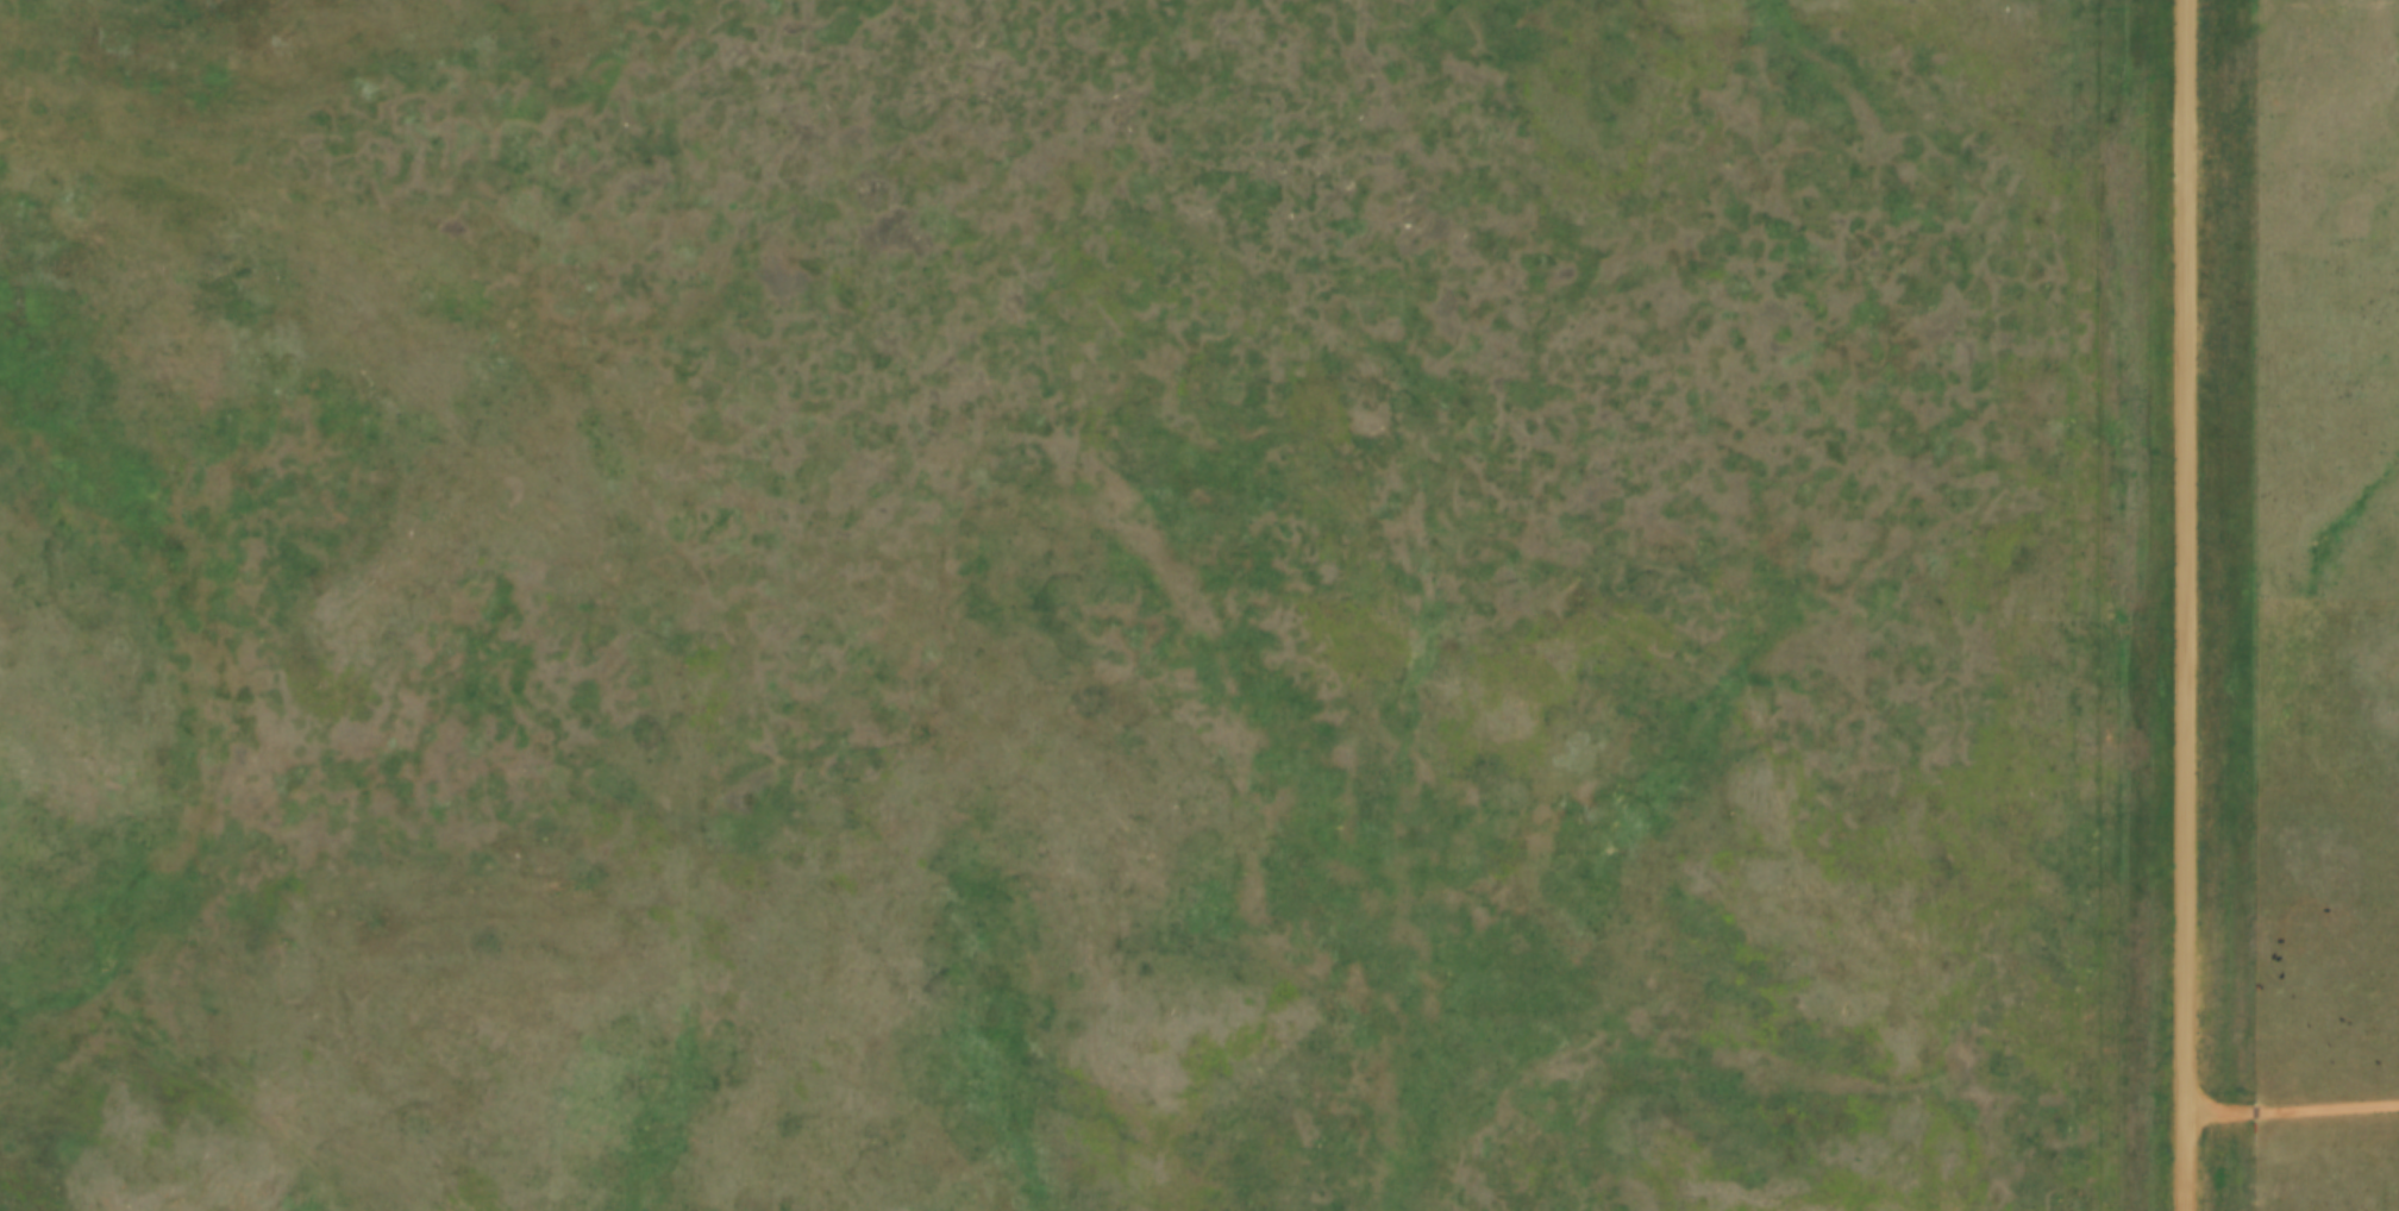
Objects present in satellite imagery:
road: (2184, 605)
road: (2292, 1112)

